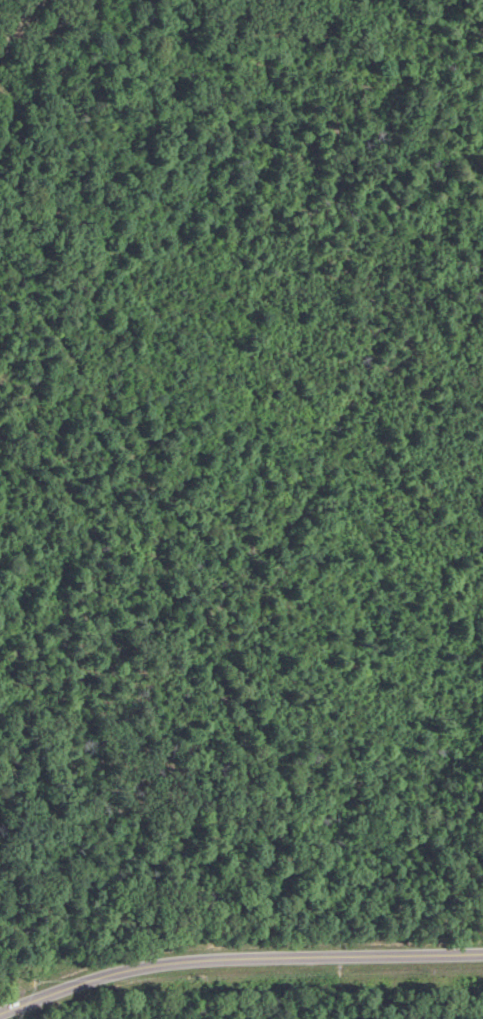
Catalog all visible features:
road: (18, 23)
road: (237, 959)

